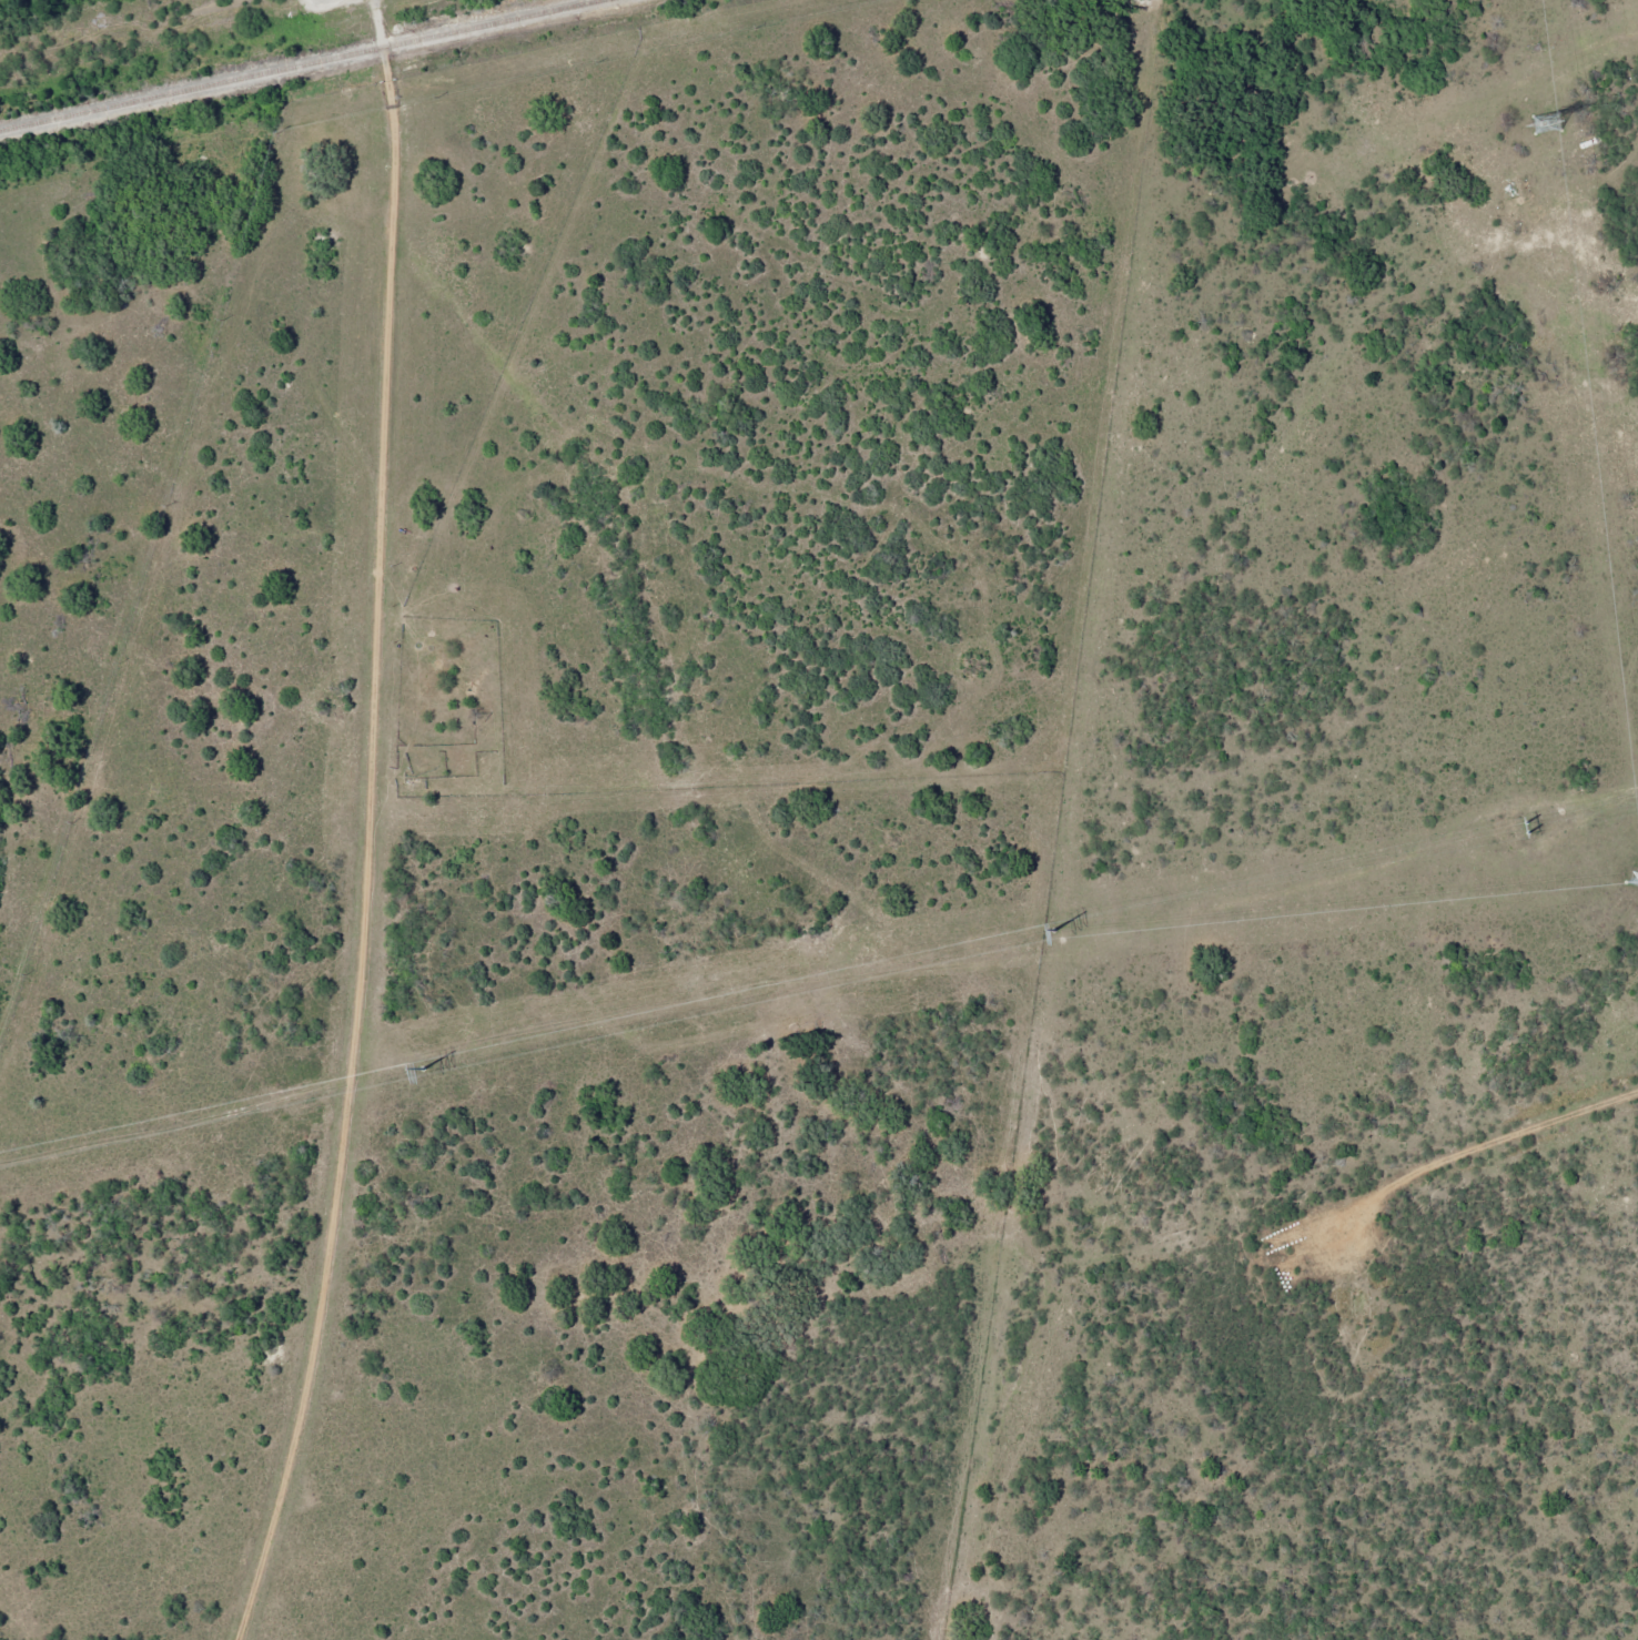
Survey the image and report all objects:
railway: (300, 64)
power tower: (1546, 125)
power tower: (1511, 830)
power tower: (1050, 928)
power tower: (422, 1067)
road: (1520, 1137)

